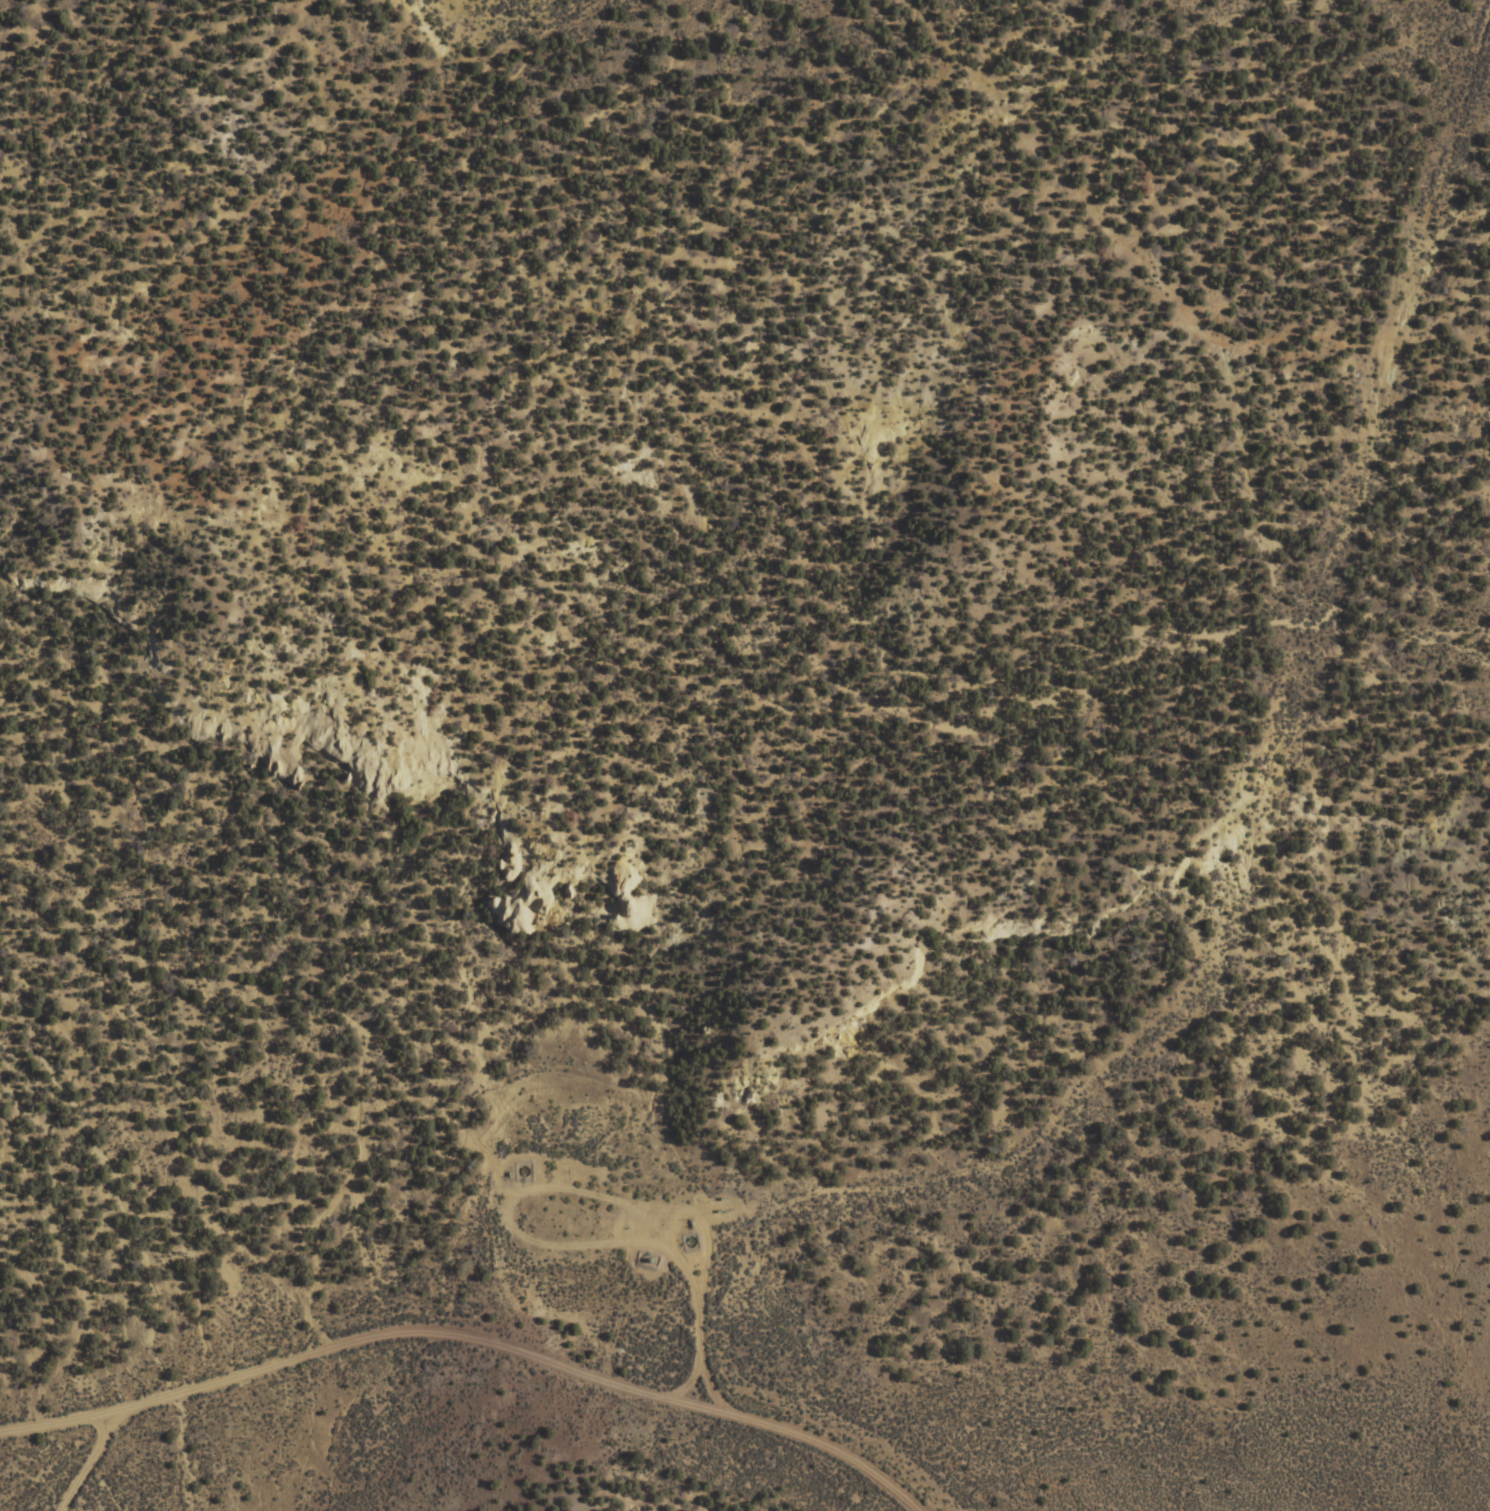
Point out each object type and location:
road: (1487, 0)
road: (344, 1312)
road: (733, 1407)

